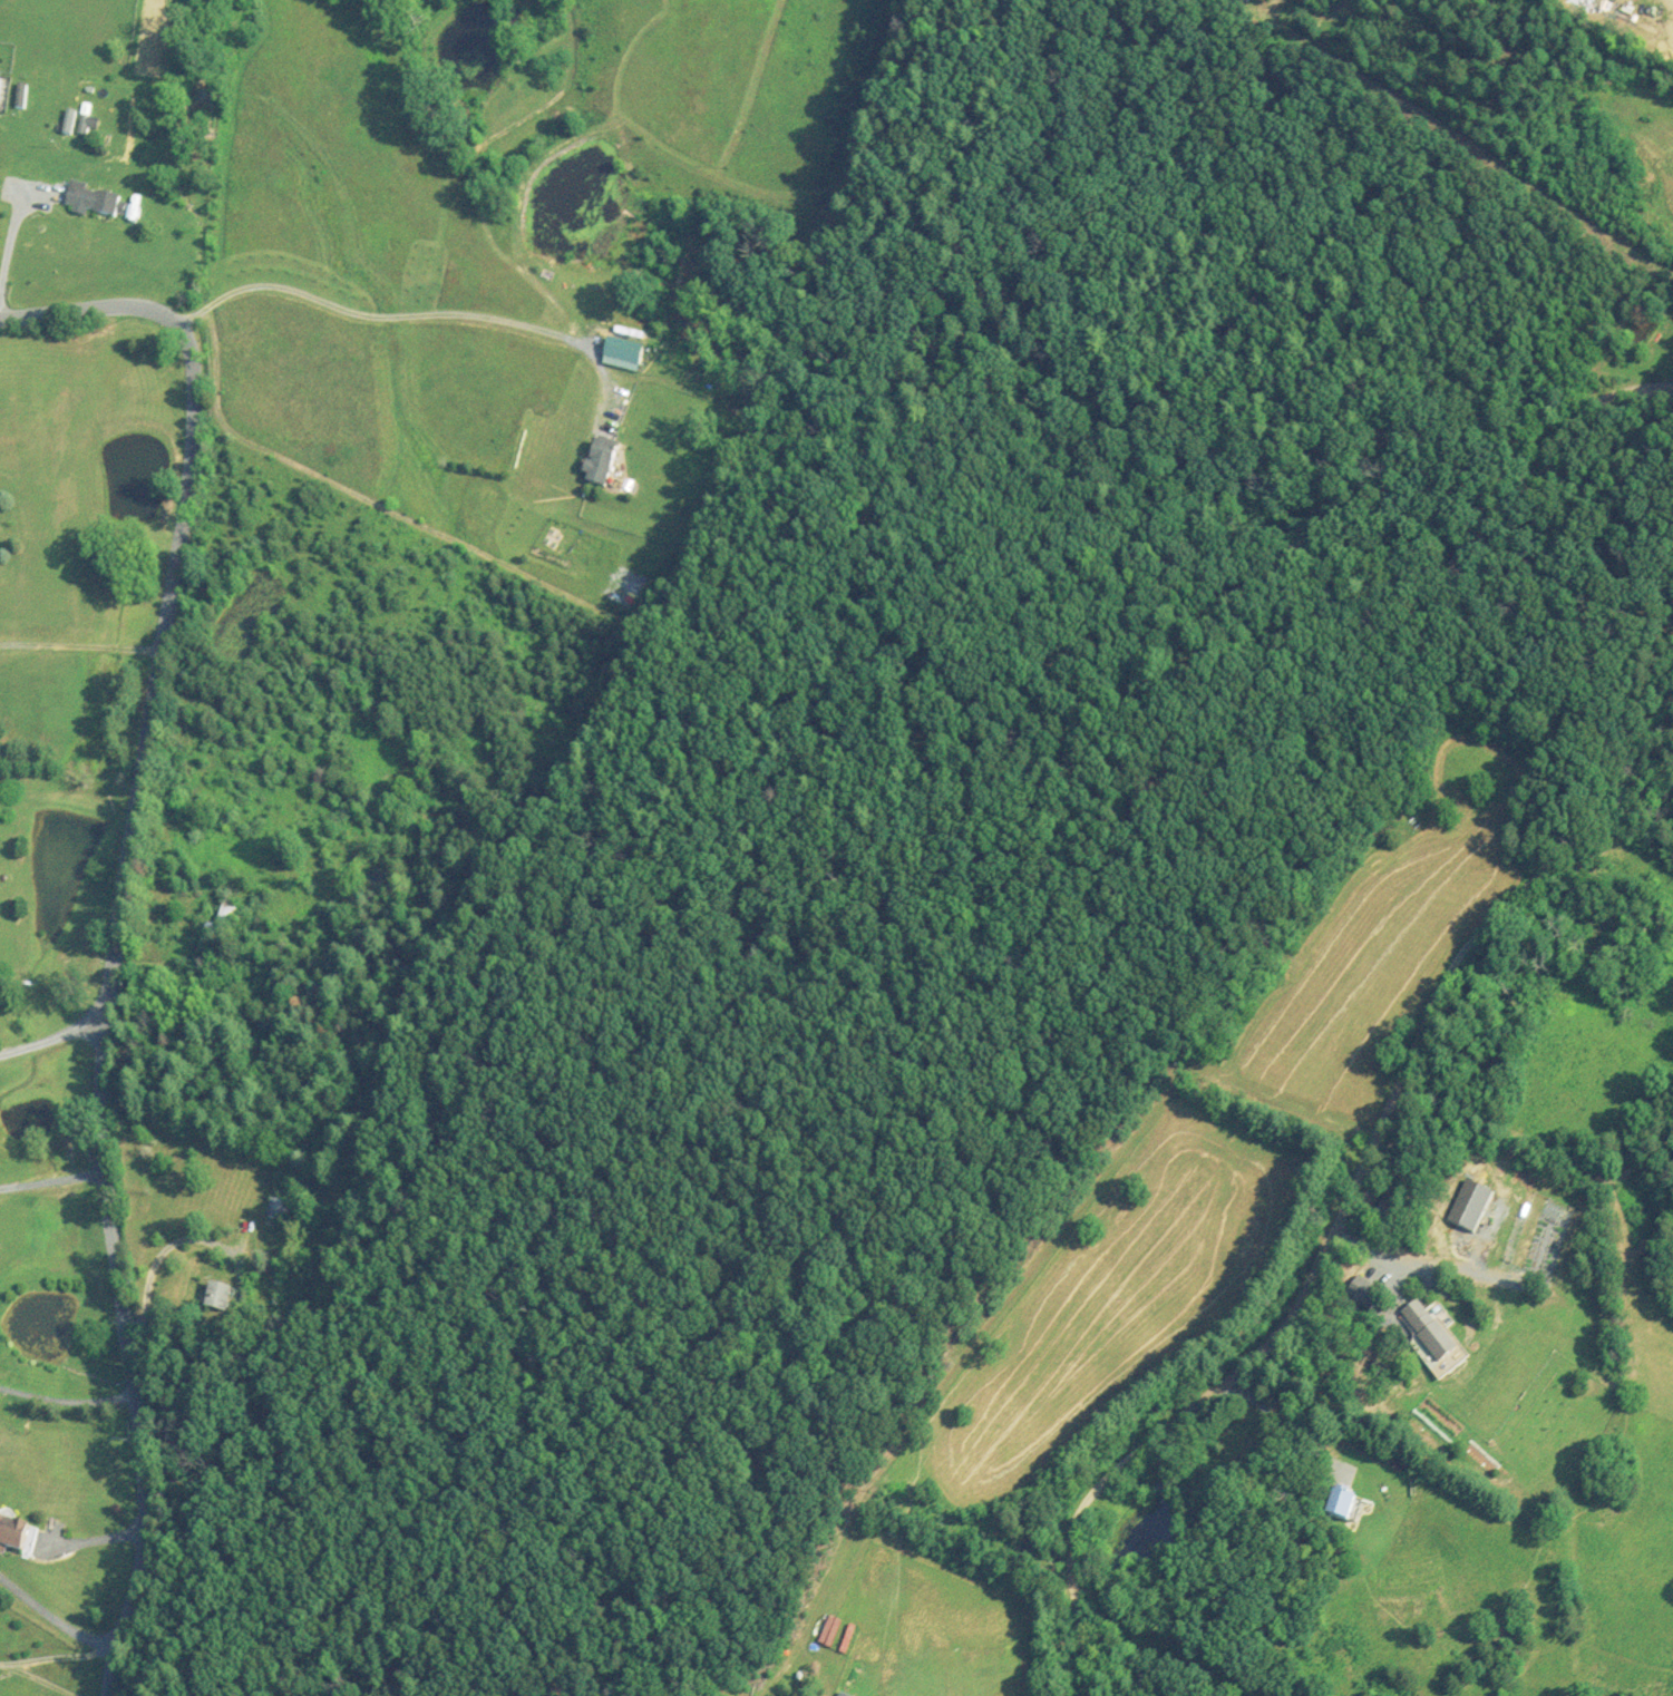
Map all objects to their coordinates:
building: (95, 197)
road: (10, 230)
road: (402, 324)
building: (604, 460)
road: (1536, 577)
road: (80, 645)
building: (222, 914)
road: (121, 920)
road: (1424, 1026)
road: (59, 1035)
building: (276, 1208)
road: (156, 1273)
building: (214, 1295)
building: (1424, 1318)
road: (67, 1401)
road: (1142, 1441)
building: (1352, 1505)
building: (17, 1534)
road: (56, 1625)
road: (51, 1658)
road: (35, 1679)

